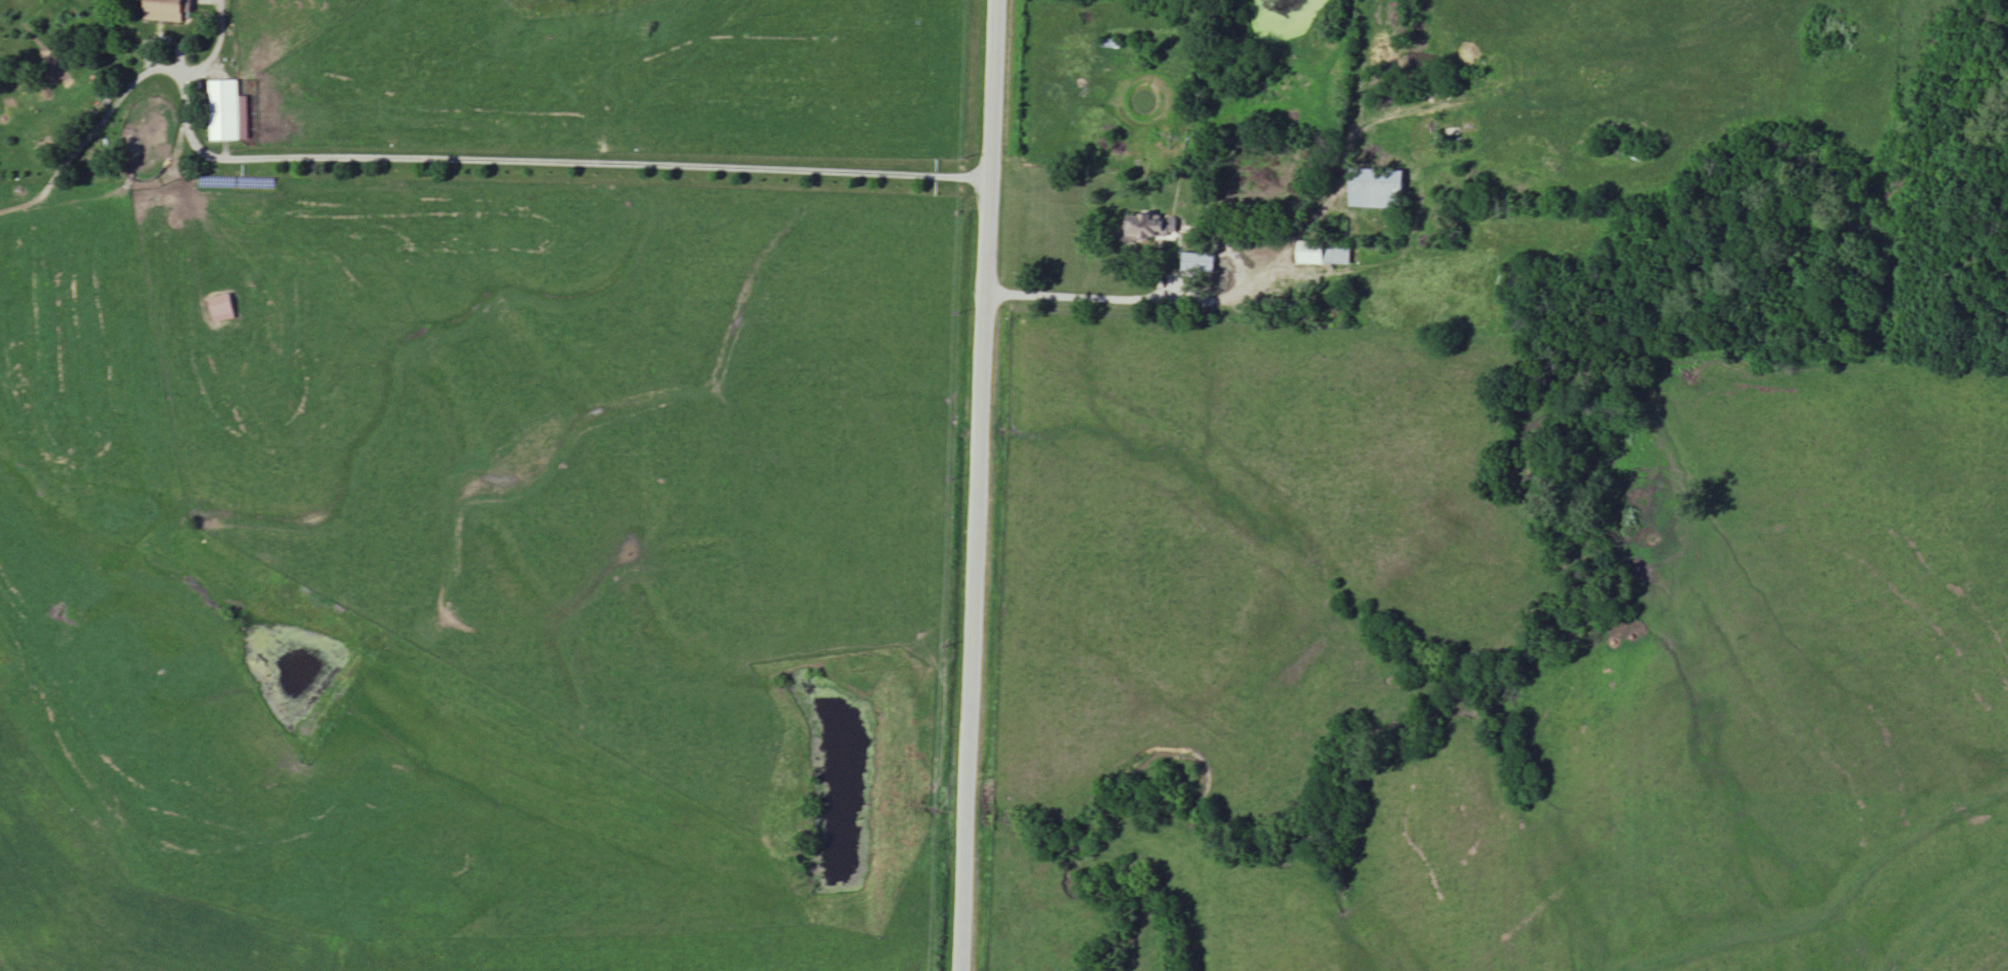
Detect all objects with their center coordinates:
building: (168, 8)
road: (159, 44)
building: (1111, 44)
building: (228, 112)
road: (549, 167)
building: (1378, 190)
building: (1153, 229)
building: (1326, 255)
building: (1200, 264)
road: (1145, 302)
building: (222, 309)
road: (975, 485)

